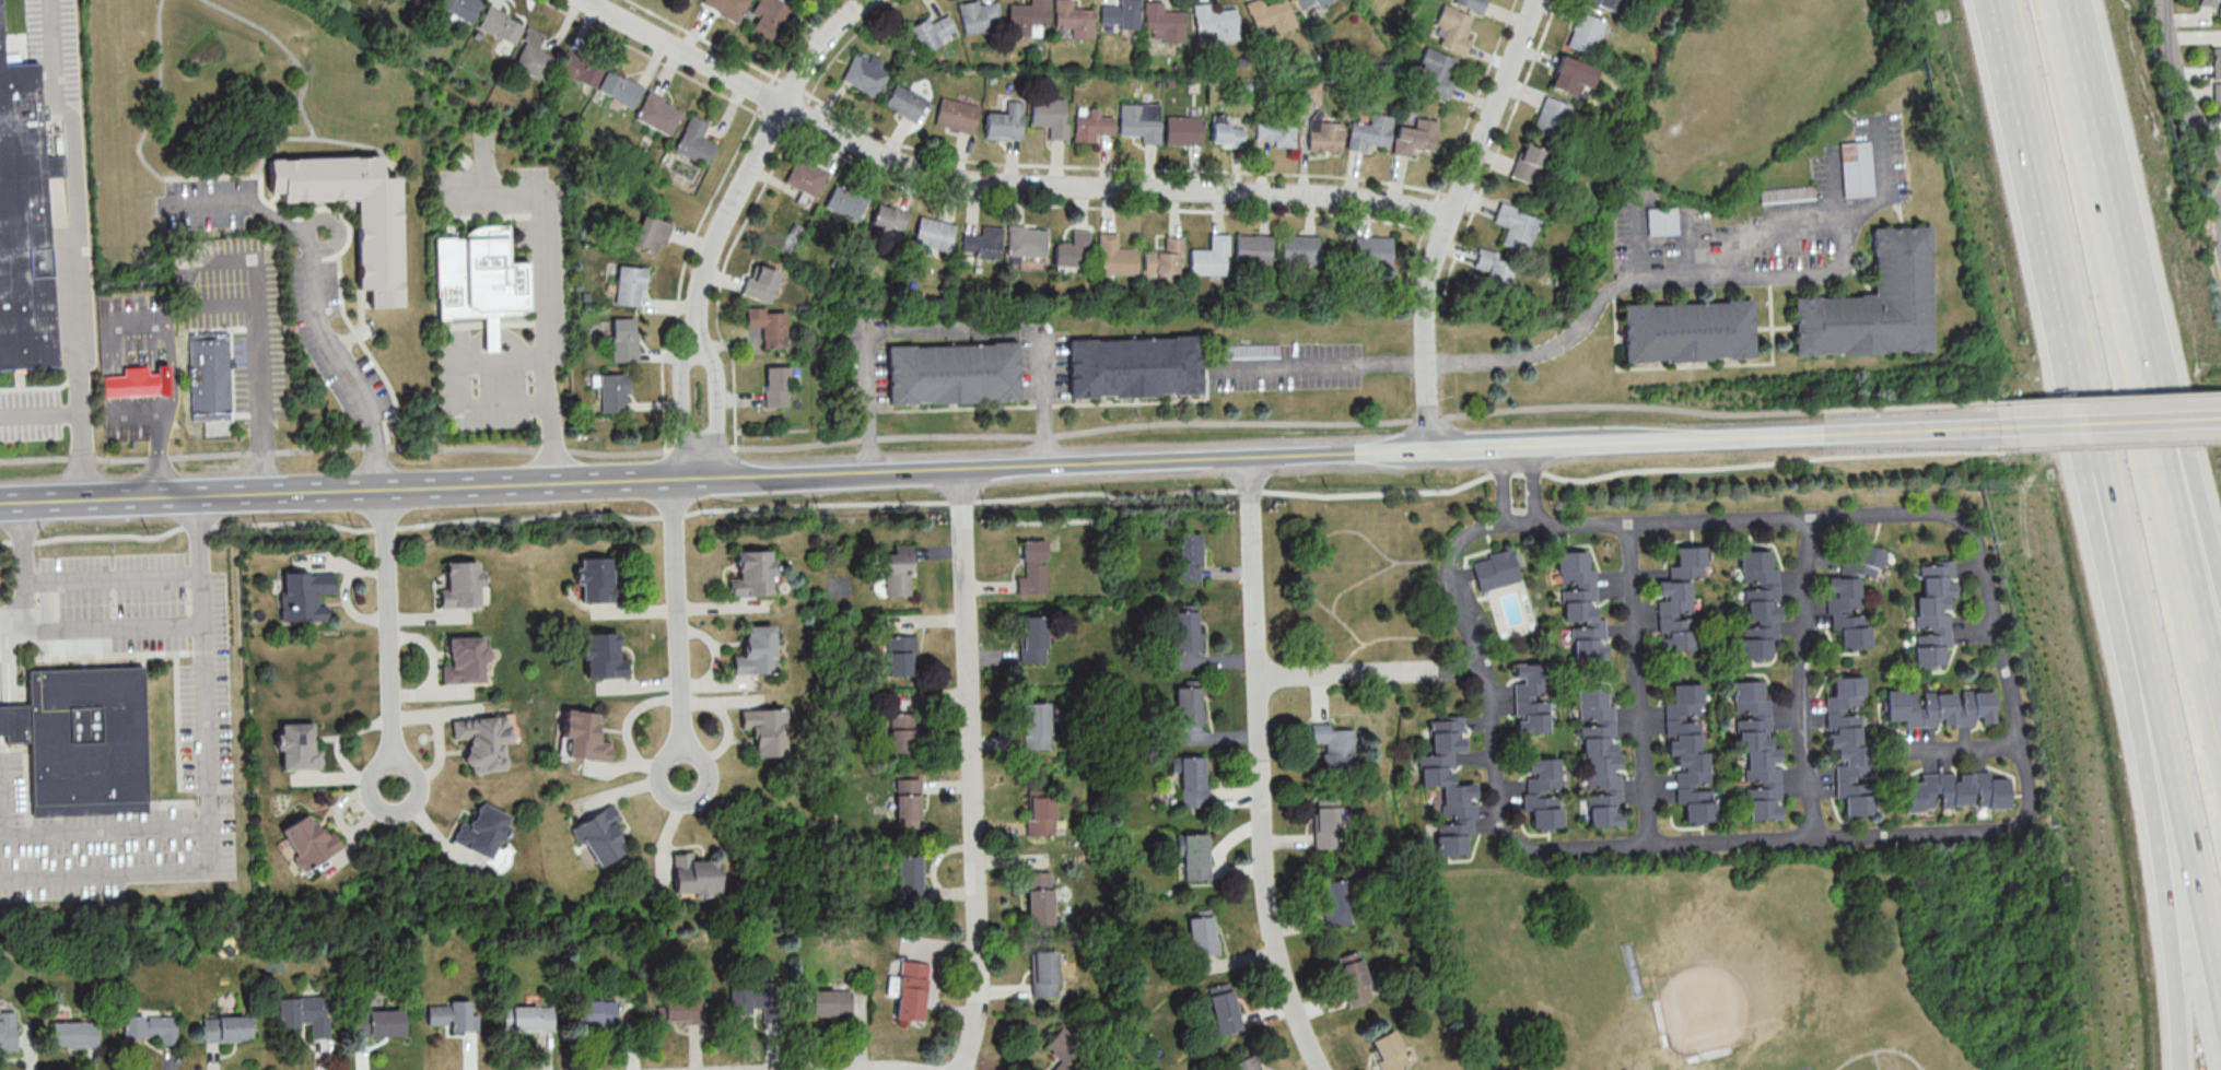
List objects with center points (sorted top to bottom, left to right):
building: (423, 0)
building: (1473, 4)
building: (2211, 4)
building: (1605, 5)
building: (1305, 7)
building: (727, 8)
building: (459, 9)
building: (1120, 15)
building: (978, 16)
building: (1271, 16)
building: (769, 17)
building: (1027, 19)
building: (1072, 21)
building: (1162, 22)
building: (1215, 23)
building: (500, 26)
building: (1454, 30)
building: (933, 33)
building: (1585, 34)
building: (533, 56)
building: (580, 69)
building: (1437, 72)
building: (866, 74)
road: (2178, 75)
building: (1565, 78)
building: (2217, 79)
park: (1752, 83)
building: (619, 90)
road: (2022, 92)
park: (1722, 96)
building: (904, 103)
building: (658, 114)
building: (957, 116)
building: (1051, 116)
building: (1551, 119)
building: (1142, 121)
building: (1006, 122)
building: (1092, 126)
building: (1185, 131)
building: (1278, 131)
building: (1370, 133)
building: (1229, 134)
building: (1325, 137)
building: (1415, 138)
building: (694, 142)
road: (752, 161)
building: (1528, 165)
building: (1855, 169)
building: (805, 178)
road: (1002, 180)
building: (1786, 196)
building: (845, 203)
building: (27, 213)
road: (1448, 217)
building: (888, 222)
building: (1661, 222)
building: (1516, 227)
building: (650, 235)
building: (932, 236)
building: (1027, 243)
road: (71, 244)
building: (982, 244)
building: (377, 247)
road: (2054, 249)
building: (1253, 250)
building: (1299, 250)
building: (1372, 251)
building: (1073, 252)
building: (1115, 258)
building: (1211, 258)
building: (1165, 259)
building: (1495, 272)
road: (1696, 273)
building: (478, 280)
road: (2143, 281)
building: (760, 285)
building: (629, 286)
road: (317, 298)
road: (542, 298)
building: (1877, 305)
road: (150, 318)
building: (768, 328)
building: (1688, 333)
building: (623, 341)
road: (259, 345)
road: (2139, 352)
road: (1324, 365)
building: (1135, 369)
building: (954, 375)
building: (209, 377)
building: (137, 384)
road: (117, 386)
building: (776, 388)
building: (613, 393)
road: (2109, 397)
road: (866, 401)
road: (1041, 402)
road: (714, 408)
road: (679, 409)
road: (40, 411)
road: (152, 419)
road: (2111, 423)
road: (1847, 434)
road: (1000, 435)
road: (1637, 443)
road: (1506, 446)
road: (2117, 446)
road: (1400, 451)
road: (162, 459)
road: (1044, 465)
road: (666, 479)
road: (1534, 484)
road: (1500, 485)
road: (306, 492)
road: (1007, 498)
road: (1954, 518)
road: (200, 534)
road: (1323, 537)
building: (1190, 556)
building: (1034, 567)
building: (897, 569)
building: (1495, 569)
building: (753, 573)
road: (72, 580)
building: (597, 580)
road: (1356, 580)
building: (460, 584)
building: (1850, 593)
building: (303, 595)
road: (1413, 598)
building: (1679, 599)
building: (1580, 605)
building: (1758, 607)
road: (25, 612)
building: (1932, 616)
road: (676, 627)
road: (105, 630)
building: (1187, 630)
road: (1399, 637)
building: (1032, 638)
road: (382, 639)
building: (757, 650)
building: (901, 655)
building: (603, 656)
road: (2144, 657)
building: (465, 659)
road: (1369, 674)
road: (1800, 678)
road: (1639, 684)
road: (2132, 690)
building: (1530, 698)
building: (1190, 705)
building: (1937, 708)
building: (1036, 725)
building: (765, 729)
building: (904, 732)
building: (584, 736)
building: (86, 740)
building: (484, 740)
building: (1847, 742)
building: (299, 746)
building: (1334, 748)
building: (1755, 748)
building: (1687, 751)
road: (1961, 751)
building: (1600, 759)
road: (1261, 767)
road: (975, 769)
building: (1194, 780)
building: (1449, 785)
building: (1542, 791)
building: (1957, 791)
building: (908, 803)
building: (1040, 814)
building: (1326, 826)
road: (208, 827)
road: (104, 828)
building: (481, 830)
building: (601, 836)
building: (308, 840)
building: (1196, 857)
building: (694, 874)
building: (910, 879)
building: (1039, 898)
building: (1335, 904)
building: (1204, 934)
building: (1044, 974)
building: (1354, 978)
building: (911, 991)
building: (756, 998)
building: (827, 1002)
building: (681, 1009)
building: (1226, 1009)
building: (304, 1013)
building: (596, 1014)
building: (453, 1016)
building: (528, 1019)
building: (376, 1023)
building: (150, 1028)
building: (226, 1028)
building: (7, 1031)
building: (73, 1034)
building: (1066, 1050)
building: (1390, 1051)
building: (1248, 1063)

